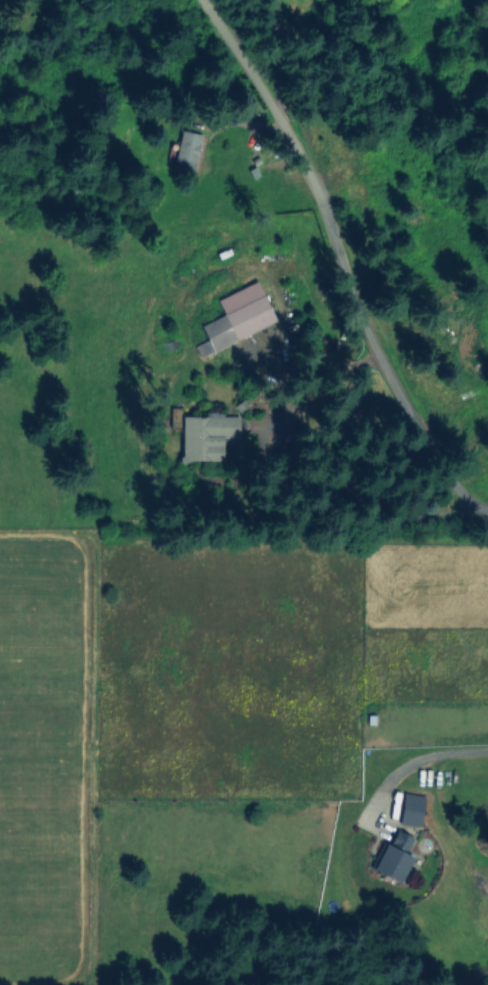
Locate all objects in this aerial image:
road: (268, 49)
building: (185, 153)
road: (341, 261)
building: (233, 318)
building: (209, 436)
road: (442, 750)
building: (413, 810)
building: (397, 858)
building: (487, 915)

